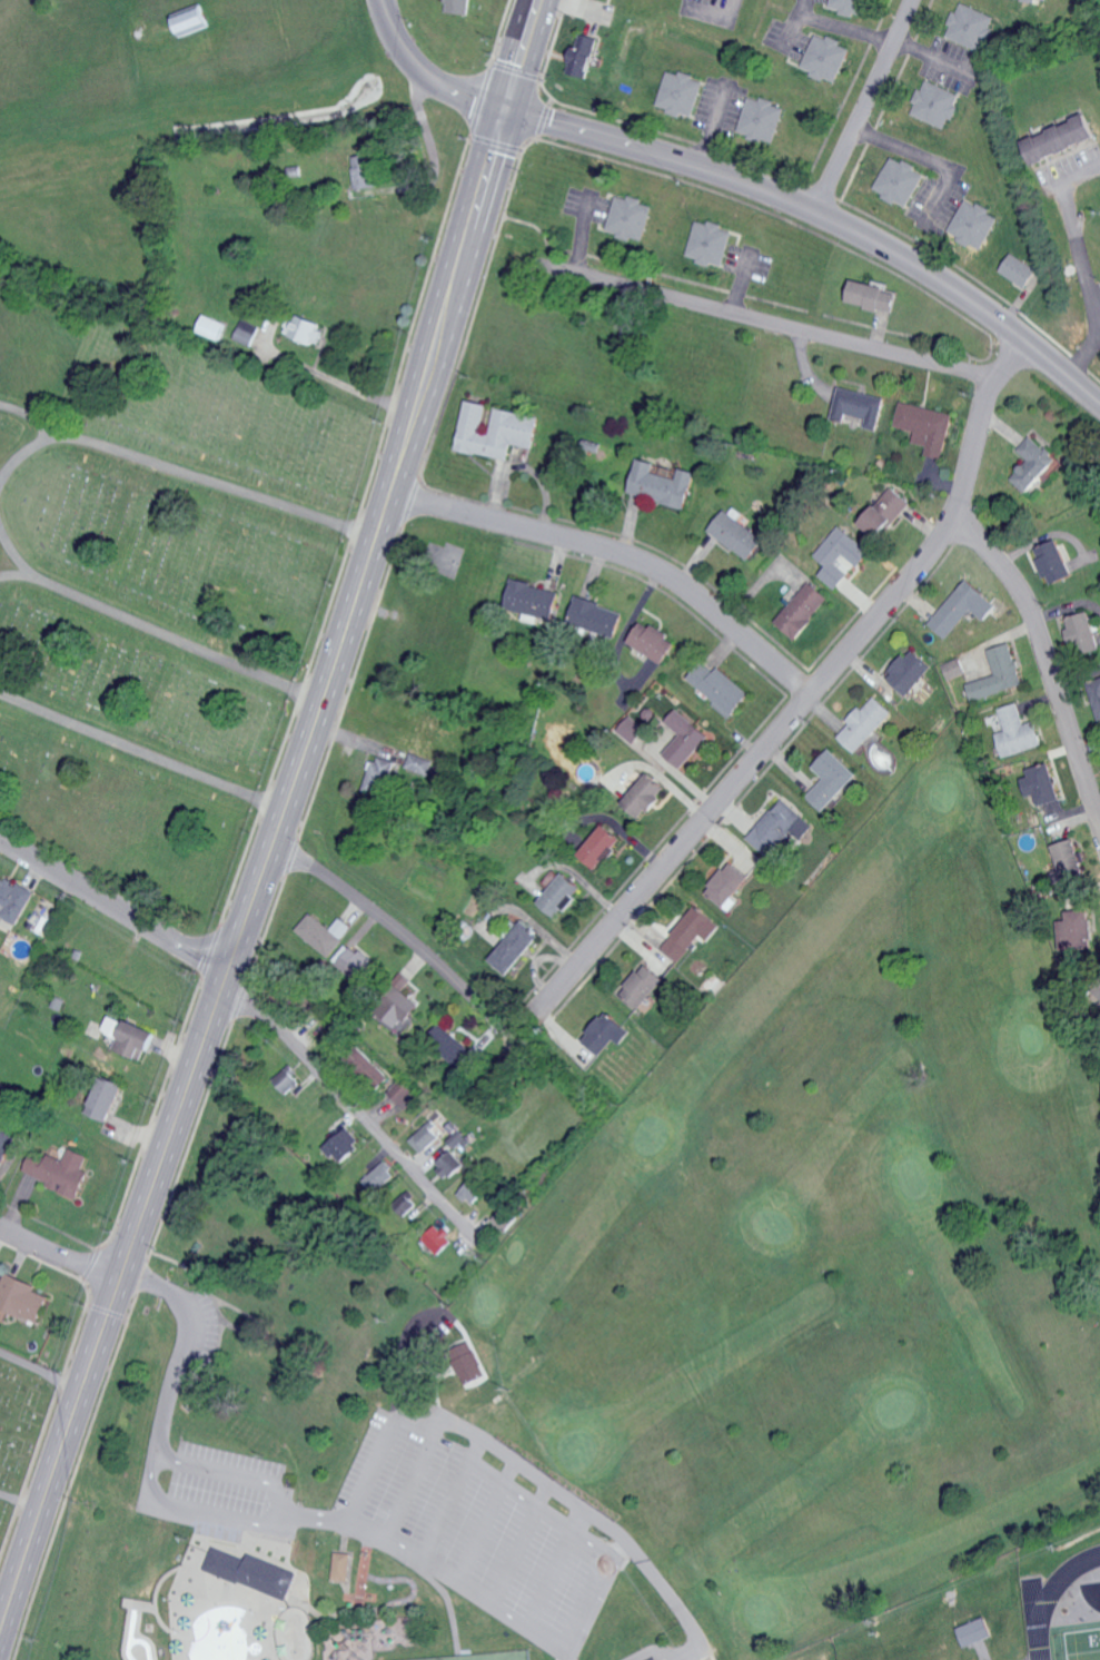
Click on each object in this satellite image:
building: (1041, 0)
building: (458, 6)
building: (850, 6)
road: (714, 10)
building: (192, 21)
road: (794, 23)
building: (971, 26)
road: (850, 27)
building: (582, 53)
building: (826, 57)
road: (935, 58)
road: (430, 68)
building: (680, 93)
building: (935, 103)
road: (865, 110)
building: (761, 119)
building: (1062, 138)
road: (929, 157)
building: (363, 171)
building: (901, 180)
building: (630, 217)
road: (821, 224)
building: (973, 224)
building: (711, 243)
road: (1090, 259)
building: (1019, 269)
building: (874, 296)
road: (765, 319)
building: (307, 328)
building: (249, 332)
road: (1082, 364)
road: (356, 391)
building: (861, 406)
building: (926, 426)
building: (497, 431)
road: (20, 453)
building: (1034, 464)
road: (184, 474)
building: (663, 484)
building: (886, 512)
building: (737, 533)
road: (618, 555)
building: (842, 555)
building: (1054, 562)
road: (20, 565)
park: (152, 580)
building: (533, 599)
building: (964, 607)
building: (803, 610)
building: (596, 616)
building: (1086, 631)
road: (174, 638)
building: (655, 642)
road: (1047, 659)
building: (955, 669)
building: (911, 672)
building: (1000, 673)
building: (720, 688)
road: (812, 695)
building: (1098, 695)
building: (866, 723)
building: (632, 729)
building: (1019, 731)
building: (684, 739)
road: (140, 753)
building: (417, 764)
building: (377, 775)
building: (832, 779)
building: (1043, 784)
building: (644, 796)
road: (279, 816)
building: (781, 827)
building: (599, 847)
building: (1070, 860)
building: (729, 886)
building: (558, 892)
building: (13, 900)
road: (112, 911)
road: (394, 923)
building: (691, 932)
building: (514, 948)
building: (354, 964)
building: (643, 986)
building: (397, 1008)
building: (607, 1034)
building: (136, 1041)
building: (453, 1047)
building: (287, 1080)
building: (403, 1095)
building: (105, 1099)
road: (357, 1113)
building: (425, 1138)
building: (343, 1147)
building: (3, 1148)
building: (450, 1164)
building: (60, 1172)
building: (378, 1177)
building: (462, 1178)
building: (474, 1192)
building: (439, 1239)
road: (58, 1254)
building: (20, 1298)
park: (650, 1331)
building: (473, 1362)
road: (174, 1371)
park: (19, 1421)
parking lot: (222, 1494)
road: (281, 1511)
road: (336, 1523)
parking lot: (488, 1535)
road: (601, 1552)
building: (344, 1567)
building: (254, 1571)
track: (1060, 1602)
building: (977, 1631)
park: (1083, 1643)
park: (504, 1657)
building: (239, 1658)
building: (660, 1659)

